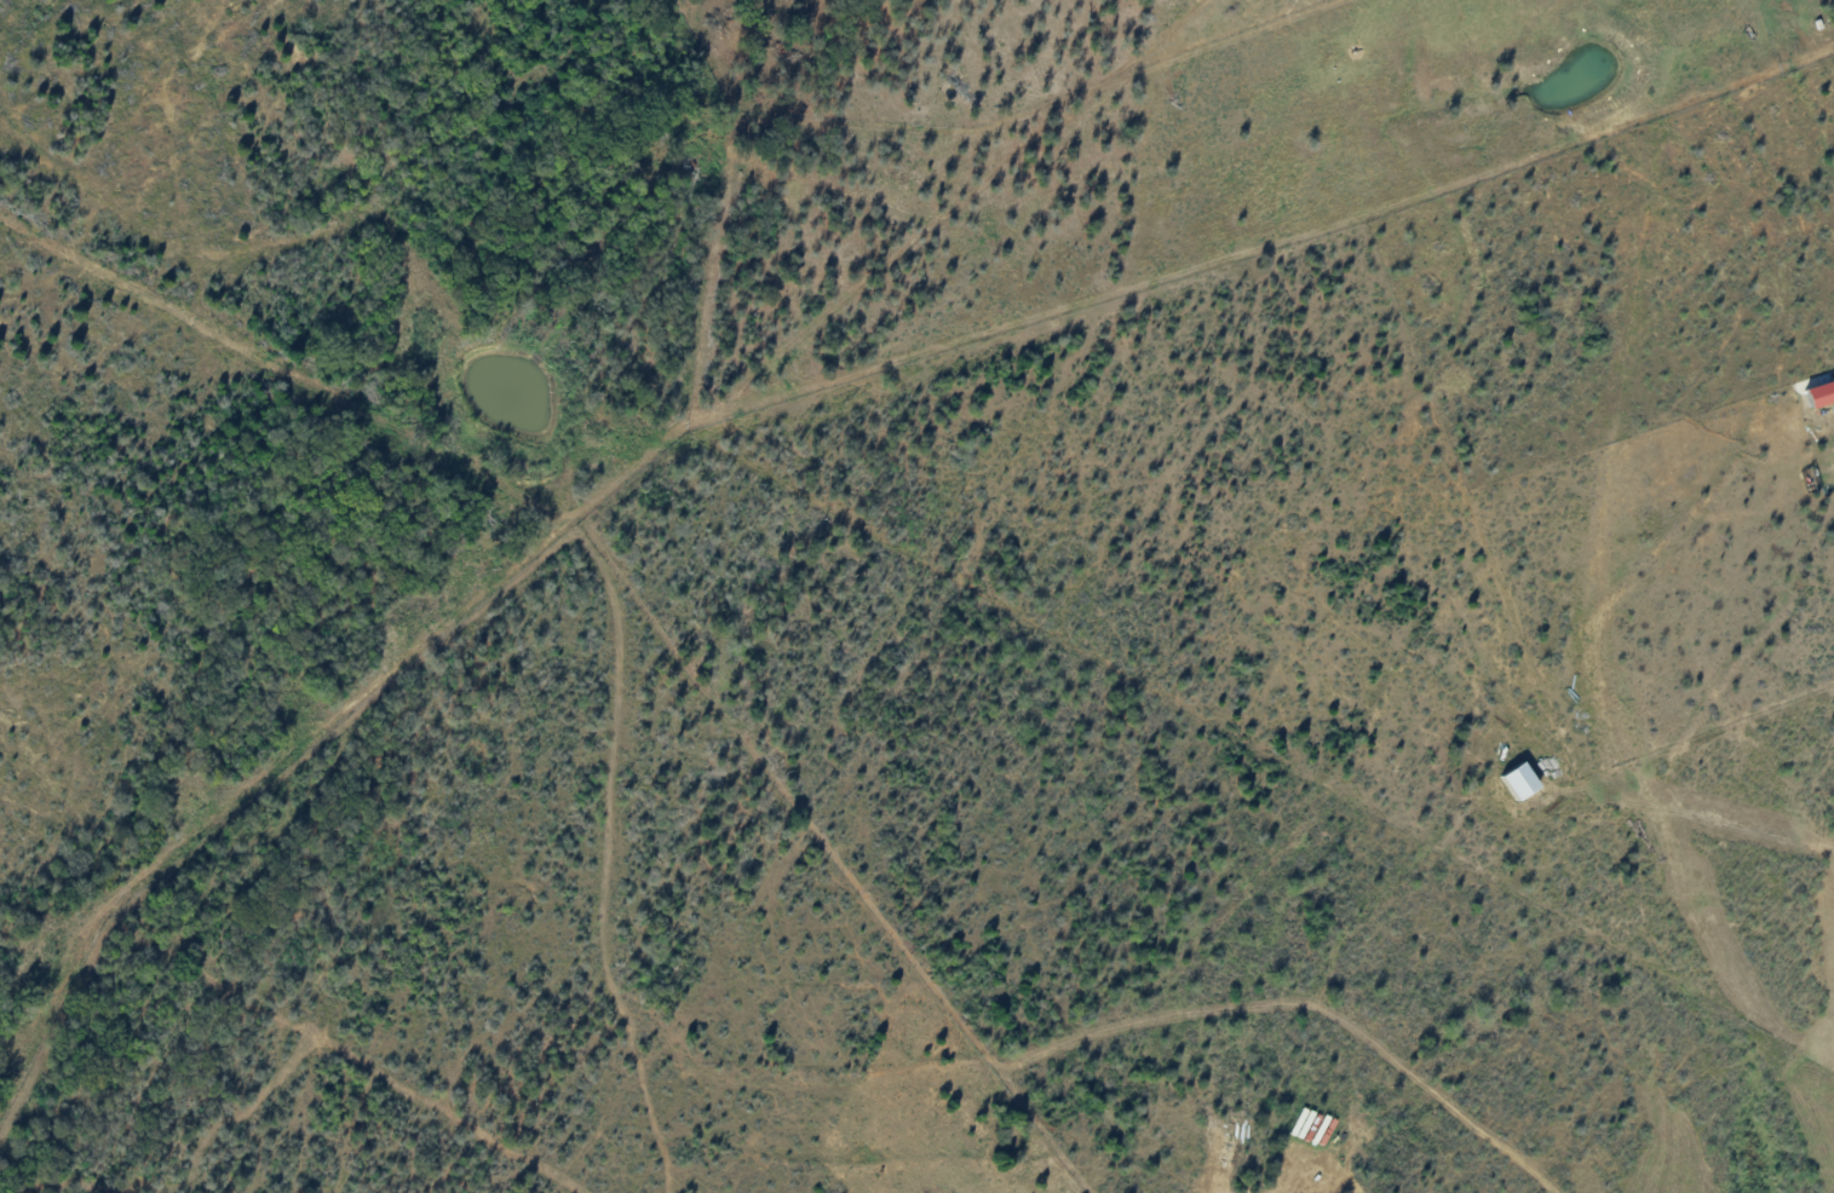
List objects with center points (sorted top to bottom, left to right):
building: (1821, 393)
building: (1522, 780)

